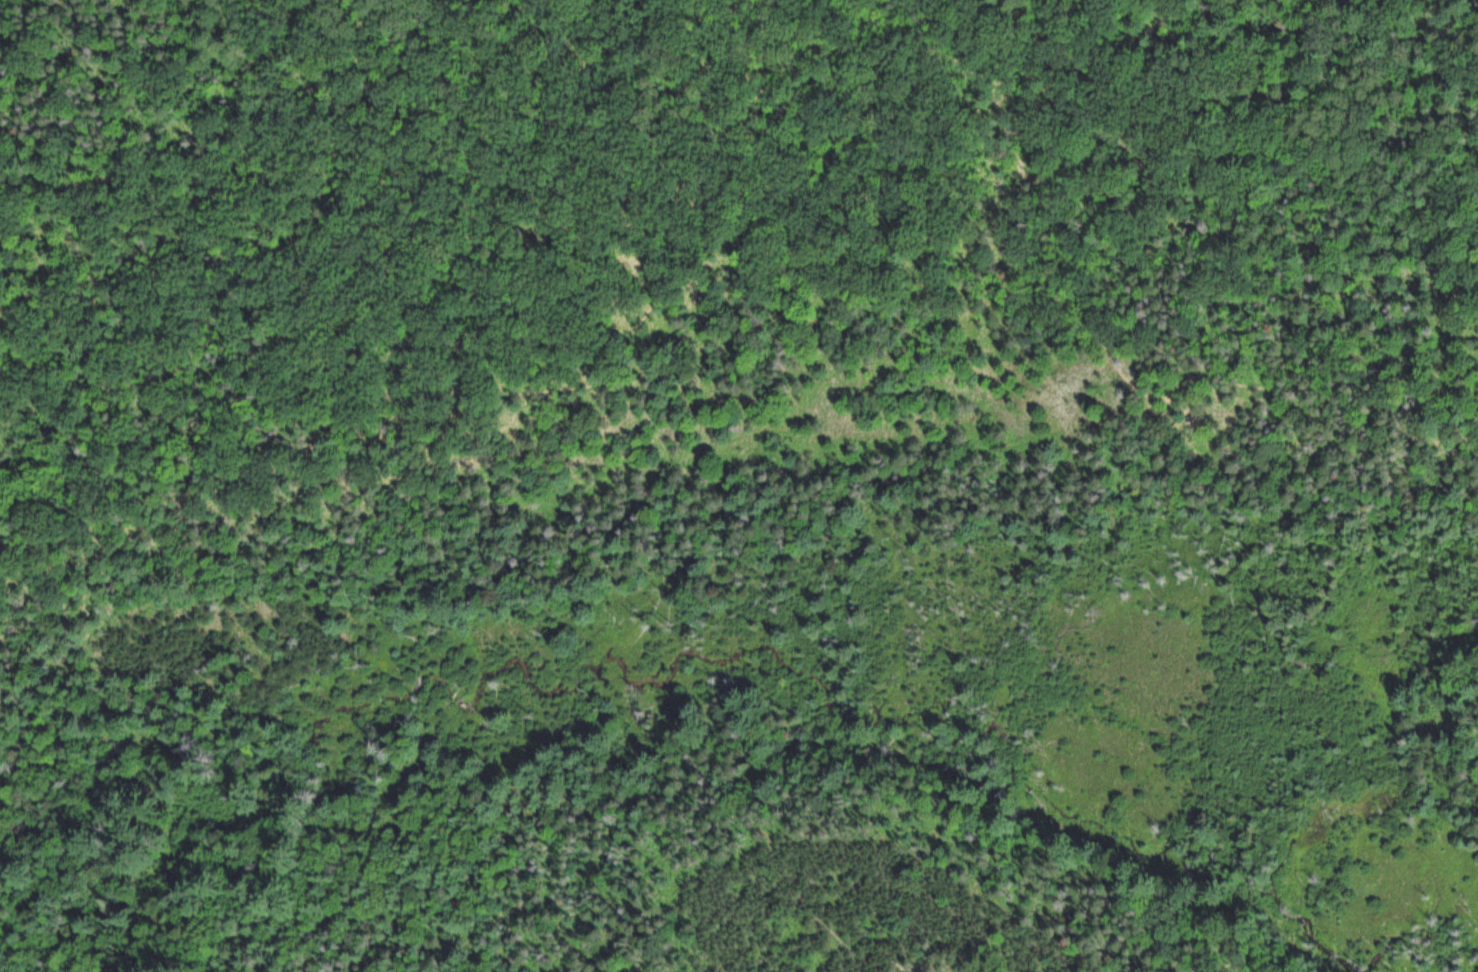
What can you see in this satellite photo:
road: (749, 126)

